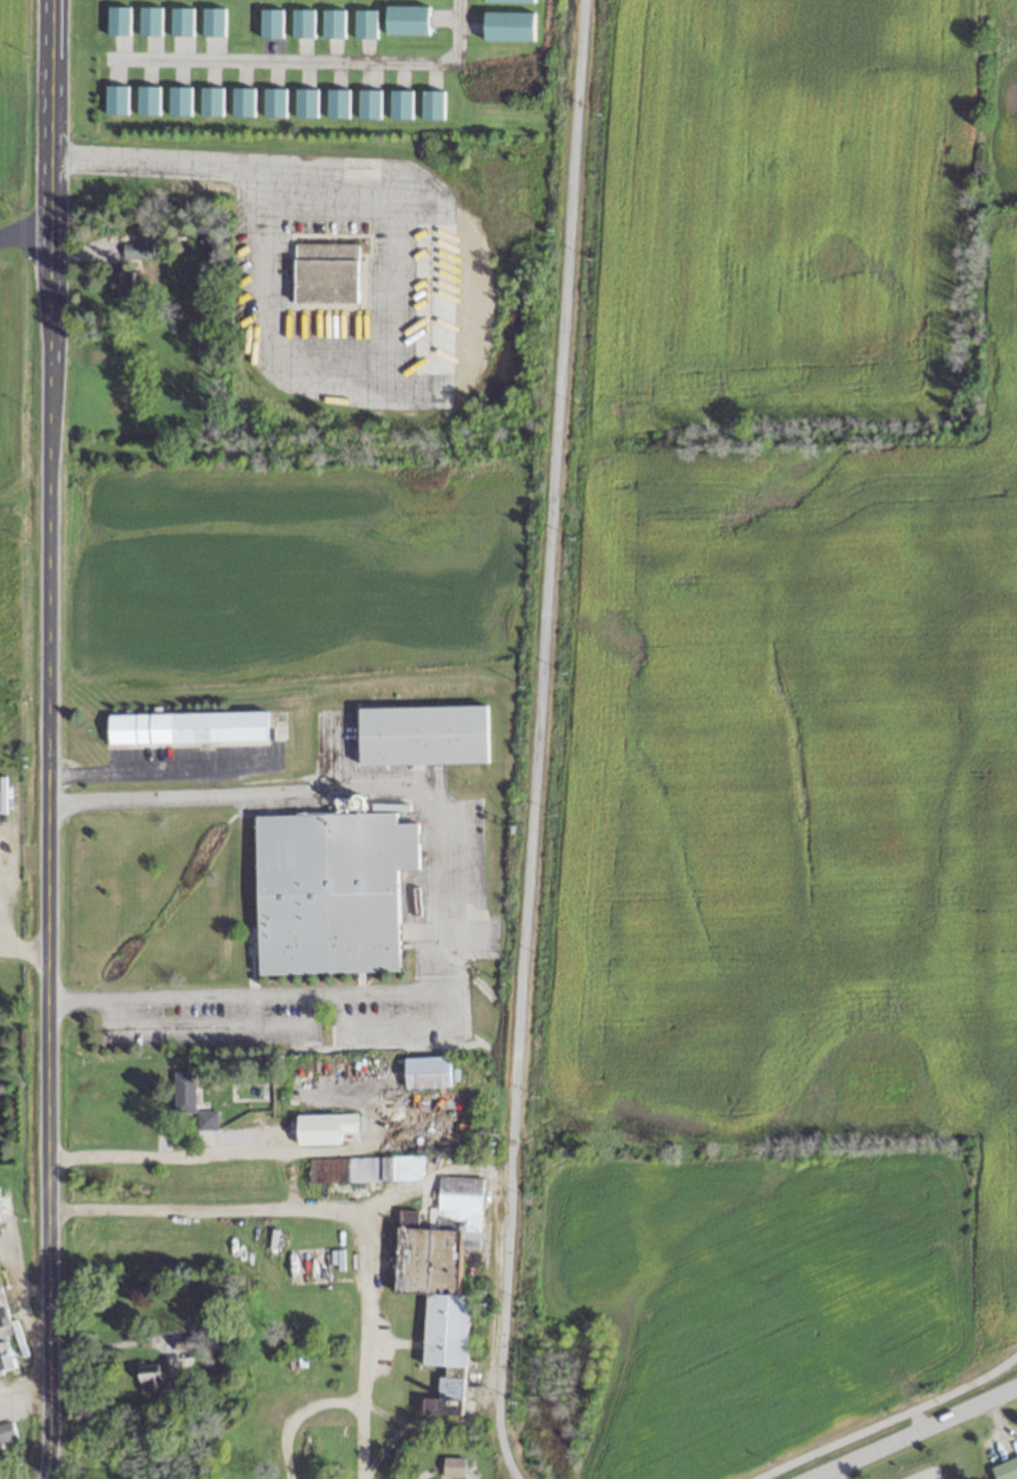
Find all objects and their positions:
building: (508, 1)
building: (118, 20)
building: (406, 20)
building: (149, 21)
building: (181, 21)
building: (212, 21)
building: (270, 23)
building: (302, 23)
building: (332, 24)
building: (365, 24)
building: (508, 26)
road: (307, 59)
building: (115, 99)
building: (147, 99)
building: (179, 100)
building: (210, 101)
building: (242, 102)
building: (274, 102)
building: (305, 103)
building: (337, 103)
building: (368, 104)
building: (400, 104)
building: (431, 105)
road: (24, 231)
building: (138, 247)
road: (393, 257)
building: (325, 273)
building: (121, 285)
crop: (18, 516)
crop: (285, 571)
building: (186, 728)
building: (422, 735)
road: (535, 736)
road: (45, 739)
crop: (786, 752)
building: (330, 892)
road: (436, 898)
road: (5, 934)
road: (5, 950)
road: (29, 954)
road: (407, 1020)
road: (213, 1025)
building: (427, 1072)
building: (191, 1101)
building: (326, 1129)
road: (161, 1154)
building: (402, 1168)
road: (330, 1217)
building: (441, 1281)
road: (104, 1345)
building: (184, 1345)
building: (5, 1346)
road: (24, 1384)
road: (912, 1419)
road: (889, 1420)
road: (907, 1430)
building: (6, 1433)
building: (453, 1468)
building: (1006, 1469)
road: (509, 1474)

